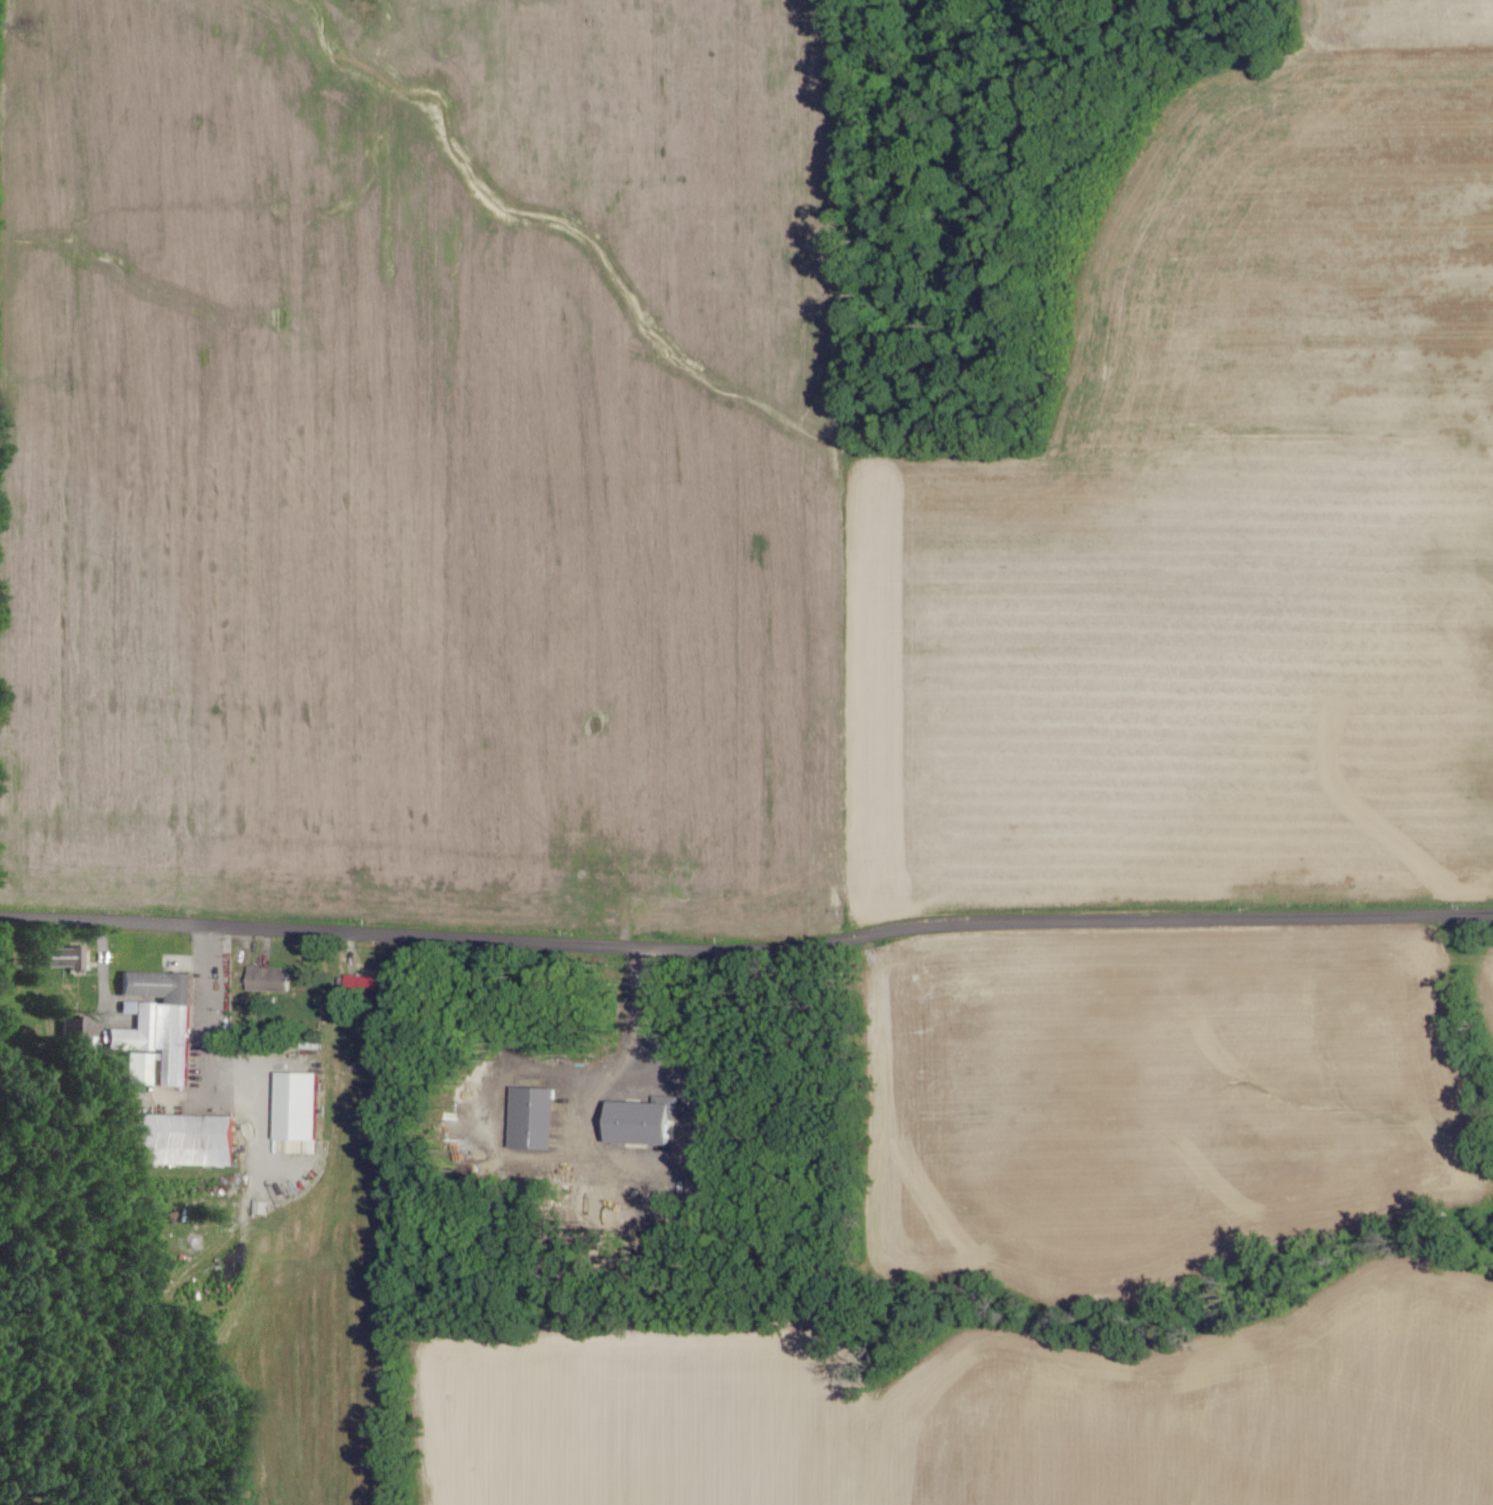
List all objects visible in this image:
road: (747, 949)
building: (69, 958)
building: (271, 979)
building: (368, 985)
building: (161, 1022)
building: (143, 1068)
building: (539, 1118)
building: (649, 1121)
building: (189, 1140)
building: (262, 1207)

